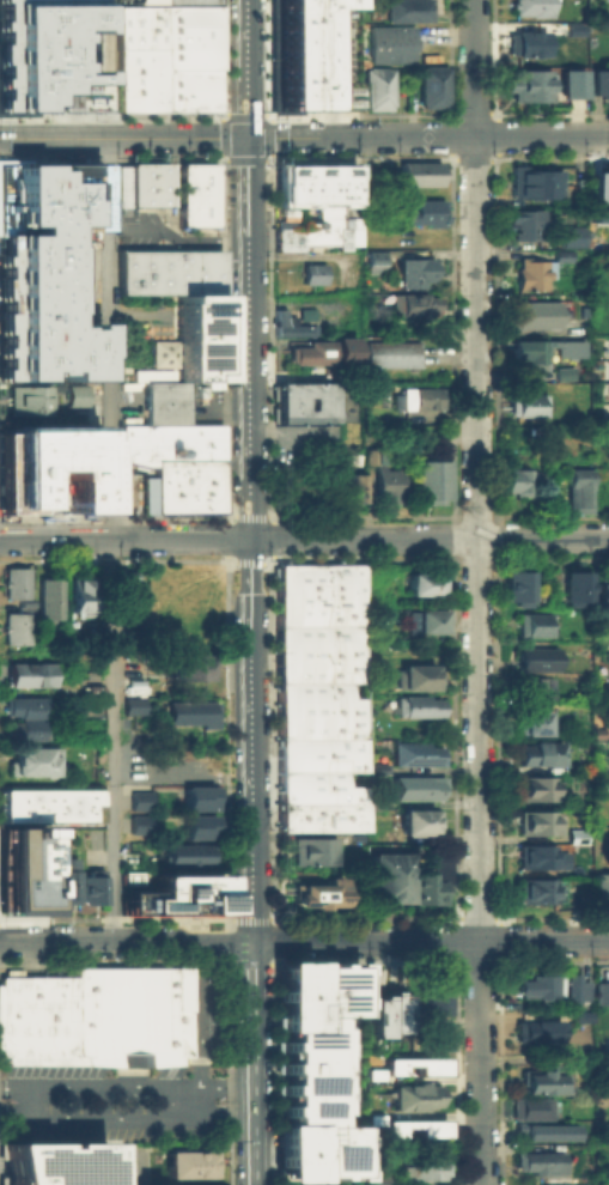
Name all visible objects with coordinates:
building: (190, 1)
building: (534, 7)
building: (408, 11)
building: (191, 14)
building: (158, 29)
building: (392, 44)
building: (528, 44)
road: (245, 47)
building: (298, 51)
building: (48, 55)
building: (193, 56)
building: (139, 78)
building: (191, 78)
building: (599, 83)
road: (474, 84)
building: (573, 84)
building: (529, 86)
building: (433, 87)
building: (377, 89)
building: (333, 93)
building: (191, 99)
road: (246, 116)
road: (219, 118)
road: (236, 118)
road: (254, 118)
road: (267, 118)
road: (219, 132)
road: (123, 138)
traffic signals: (246, 138)
road: (427, 138)
road: (267, 140)
road: (219, 148)
road: (110, 159)
road: (236, 163)
road: (254, 163)
road: (267, 163)
road: (219, 164)
road: (220, 166)
building: (420, 174)
building: (196, 177)
building: (286, 182)
building: (325, 182)
building: (142, 183)
building: (535, 183)
building: (197, 209)
building: (424, 213)
building: (599, 214)
building: (333, 225)
building: (523, 225)
road: (177, 236)
building: (287, 236)
building: (571, 236)
building: (562, 255)
building: (376, 261)
building: (197, 269)
building: (146, 271)
building: (43, 272)
building: (410, 272)
building: (531, 274)
building: (313, 275)
building: (410, 304)
building: (193, 311)
road: (138, 315)
building: (532, 315)
road: (248, 316)
building: (292, 321)
building: (209, 322)
road: (268, 341)
road: (224, 344)
building: (567, 347)
building: (312, 351)
building: (528, 351)
building: (391, 354)
building: (199, 358)
building: (353, 372)
building: (562, 372)
building: (73, 393)
building: (29, 399)
building: (422, 399)
building: (165, 401)
building: (305, 403)
road: (6, 406)
road: (55, 406)
building: (526, 406)
road: (29, 418)
road: (292, 431)
building: (205, 439)
building: (373, 457)
building: (158, 462)
building: (205, 467)
building: (49, 469)
road: (110, 470)
building: (427, 478)
building: (514, 481)
building: (384, 487)
building: (352, 488)
building: (575, 491)
building: (205, 493)
road: (474, 515)
road: (552, 515)
road: (363, 516)
road: (493, 516)
road: (114, 517)
road: (249, 518)
road: (452, 518)
road: (230, 519)
road: (249, 519)
road: (269, 519)
road: (227, 523)
road: (494, 529)
road: (452, 530)
road: (226, 533)
road: (123, 540)
road: (428, 540)
road: (269, 542)
road: (452, 546)
road: (495, 547)
road: (226, 548)
road: (114, 559)
road: (452, 559)
road: (497, 559)
road: (553, 559)
road: (467, 560)
road: (483, 560)
road: (226, 564)
road: (240, 565)
road: (256, 565)
road: (268, 565)
building: (299, 578)
building: (17, 583)
building: (420, 583)
building: (518, 585)
building: (573, 589)
building: (129, 590)
building: (78, 592)
building: (318, 592)
building: (352, 592)
building: (49, 598)
building: (603, 600)
building: (304, 613)
building: (425, 622)
building: (531, 625)
building: (16, 628)
building: (304, 633)
building: (352, 644)
building: (304, 654)
building: (536, 660)
building: (190, 667)
building: (352, 669)
building: (304, 671)
building: (32, 675)
building: (418, 675)
road: (476, 676)
building: (341, 688)
building: (304, 691)
building: (535, 691)
building: (133, 697)
building: (353, 705)
building: (24, 706)
building: (185, 706)
building: (416, 707)
building: (305, 710)
road: (250, 718)
building: (353, 721)
building: (534, 723)
building: (305, 728)
building: (24, 730)
building: (353, 731)
building: (132, 747)
building: (415, 752)
building: (541, 754)
building: (353, 756)
building: (34, 761)
building: (378, 766)
building: (190, 770)
building: (305, 772)
building: (413, 785)
building: (535, 785)
building: (354, 794)
building: (196, 796)
building: (138, 798)
building: (374, 800)
building: (47, 804)
building: (354, 818)
building: (307, 819)
building: (139, 821)
building: (420, 824)
building: (538, 824)
building: (197, 826)
building: (312, 849)
building: (189, 853)
building: (543, 858)
building: (441, 870)
building: (23, 873)
building: (388, 875)
building: (130, 877)
building: (65, 881)
building: (92, 889)
building: (425, 889)
building: (602, 889)
building: (318, 892)
building: (535, 892)
building: (176, 894)
road: (251, 920)
road: (430, 941)
road: (124, 942)
building: (293, 977)
building: (577, 985)
road: (252, 987)
building: (540, 987)
building: (602, 992)
building: (379, 1014)
building: (431, 1014)
building: (96, 1016)
building: (293, 1022)
building: (537, 1028)
road: (201, 1029)
building: (607, 1047)
building: (415, 1061)
building: (376, 1071)
building: (324, 1082)
building: (544, 1082)
road: (127, 1083)
building: (413, 1094)
building: (294, 1096)
road: (254, 1110)
building: (531, 1110)
road: (123, 1117)
building: (376, 1118)
building: (416, 1123)
building: (550, 1134)
building: (293, 1137)
building: (54, 1162)
building: (188, 1162)
building: (538, 1165)
road: (111, 1169)
building: (425, 1171)
building: (377, 1179)

